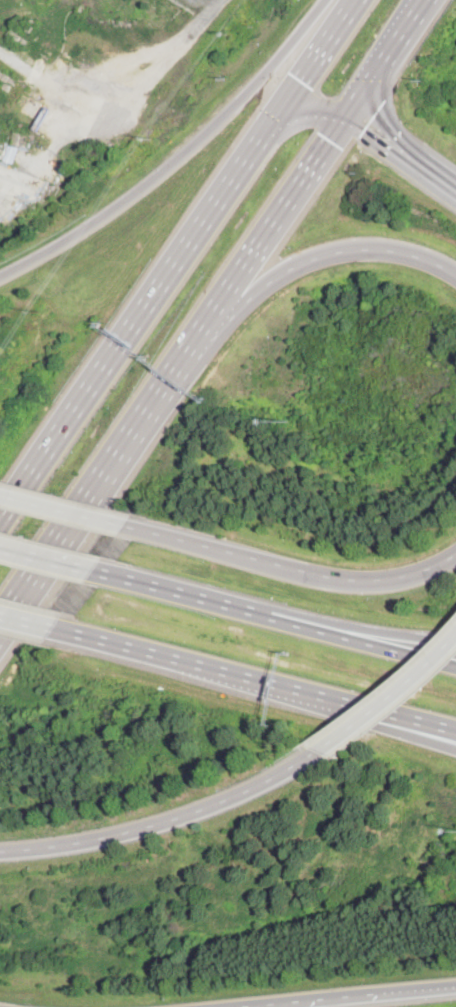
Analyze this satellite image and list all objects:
road: (318, 56)
road: (389, 56)
traffic signals: (302, 80)
road: (315, 106)
traffic signals: (367, 125)
traffic signals: (332, 140)
road: (403, 151)
road: (177, 157)
road: (254, 250)
road: (289, 269)
road: (139, 314)
road: (63, 509)
road: (82, 509)
road: (48, 560)
road: (291, 567)
road: (276, 619)
road: (34, 622)
road: (331, 623)
road: (193, 666)
road: (390, 699)
road: (388, 715)
road: (388, 722)
road: (165, 821)
road: (346, 996)

